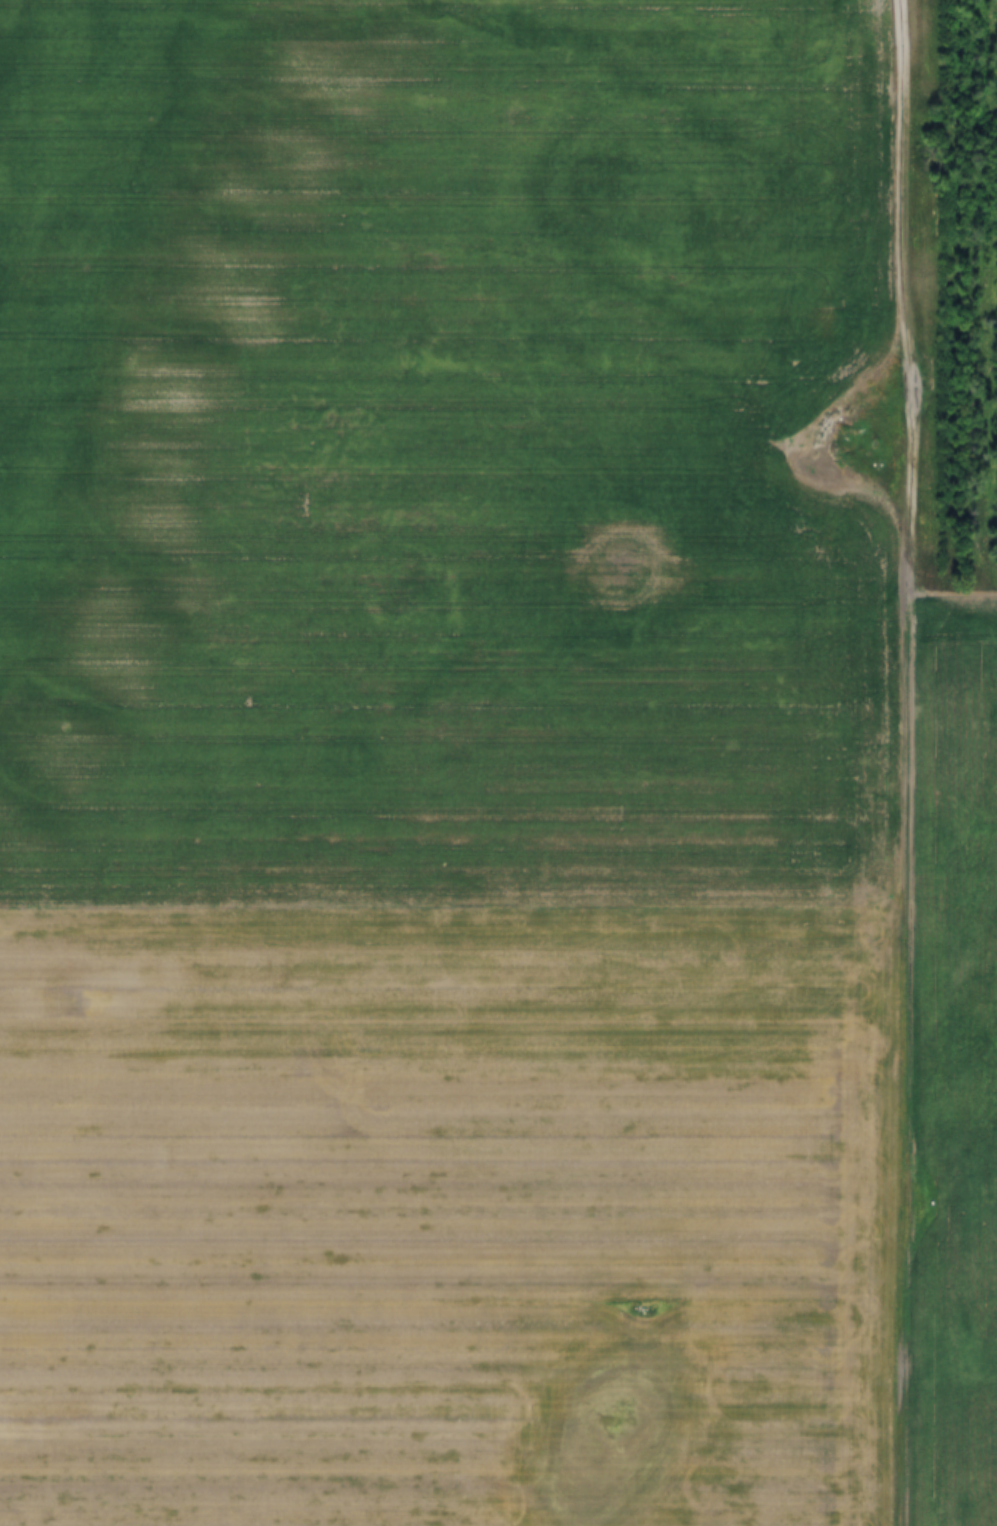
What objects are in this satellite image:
road: (911, 764)

